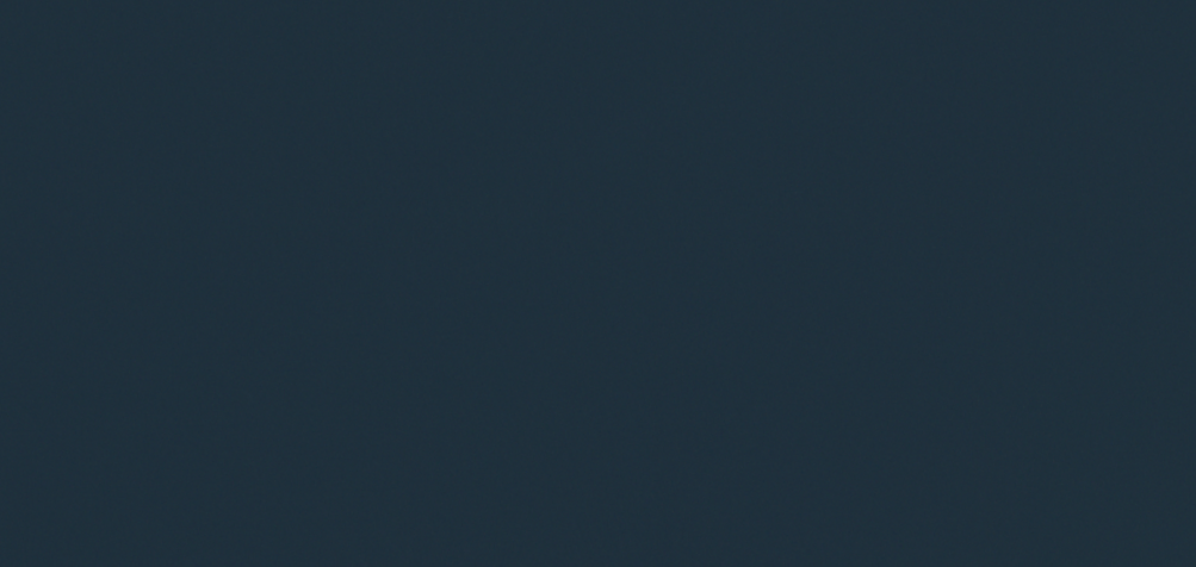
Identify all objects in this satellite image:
park: (597, 283)

